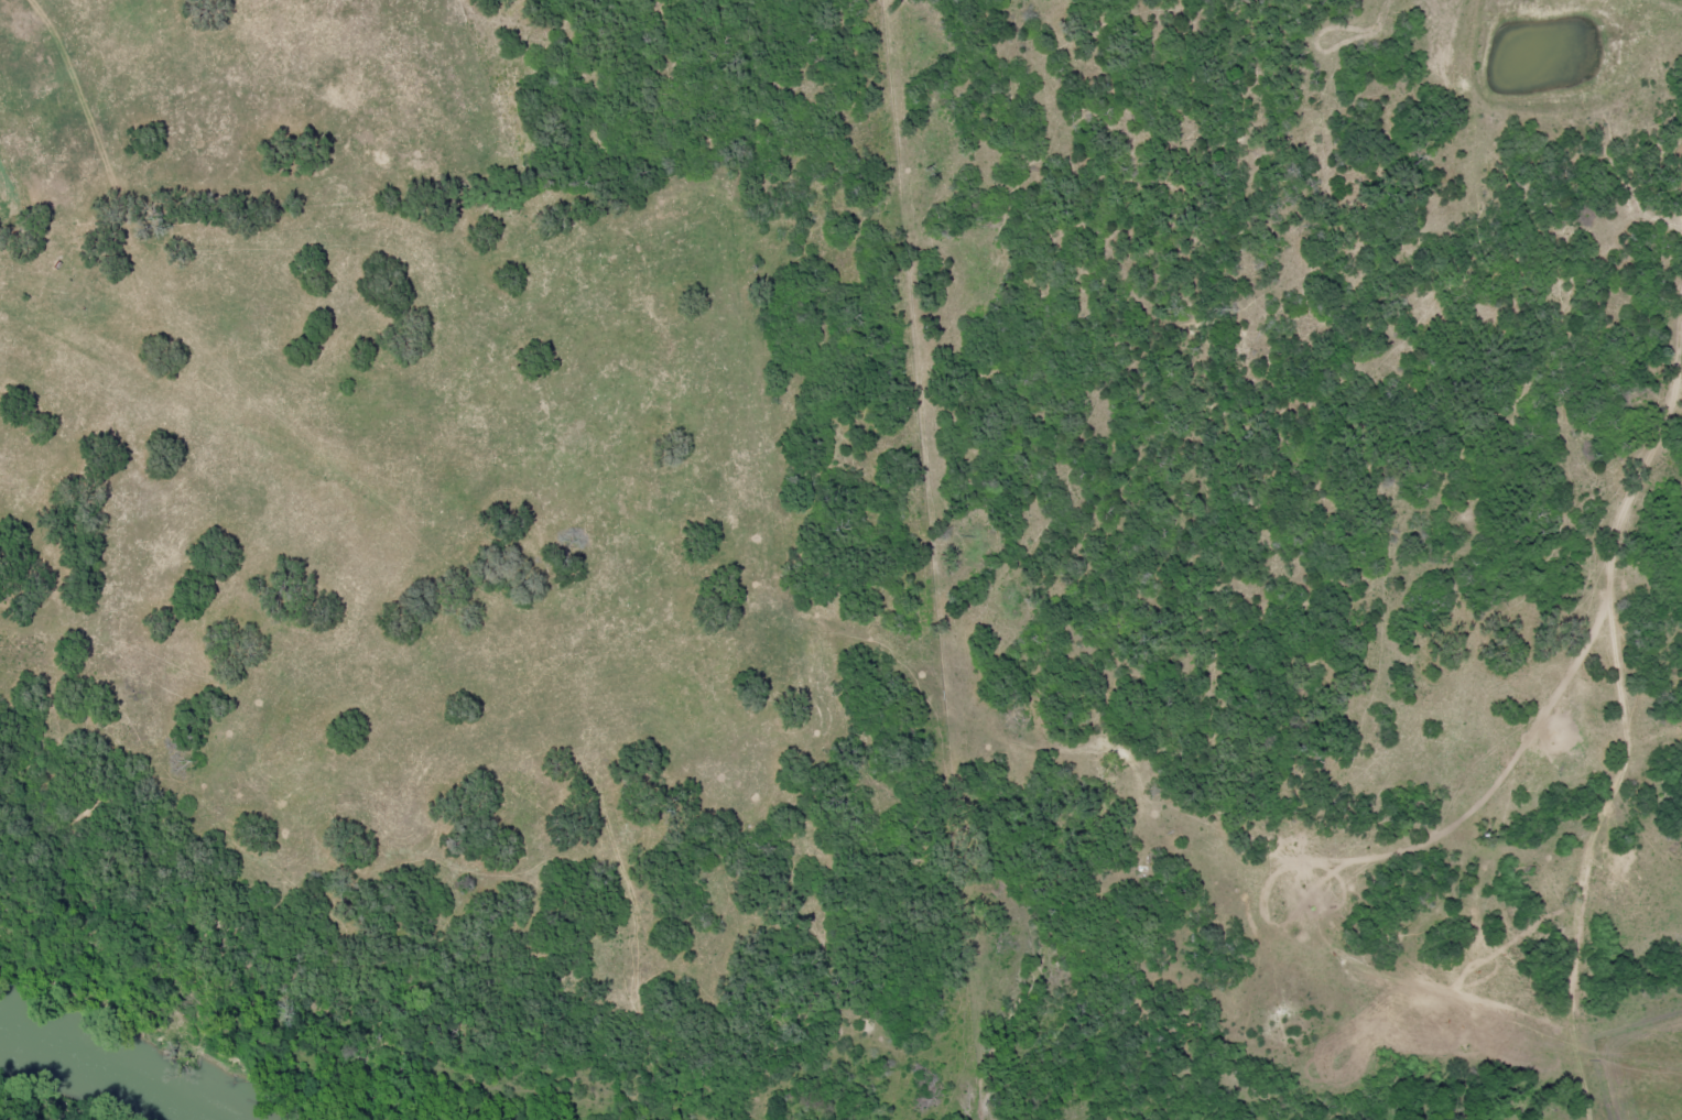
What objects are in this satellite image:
road: (1663, 713)
river: (118, 1061)

